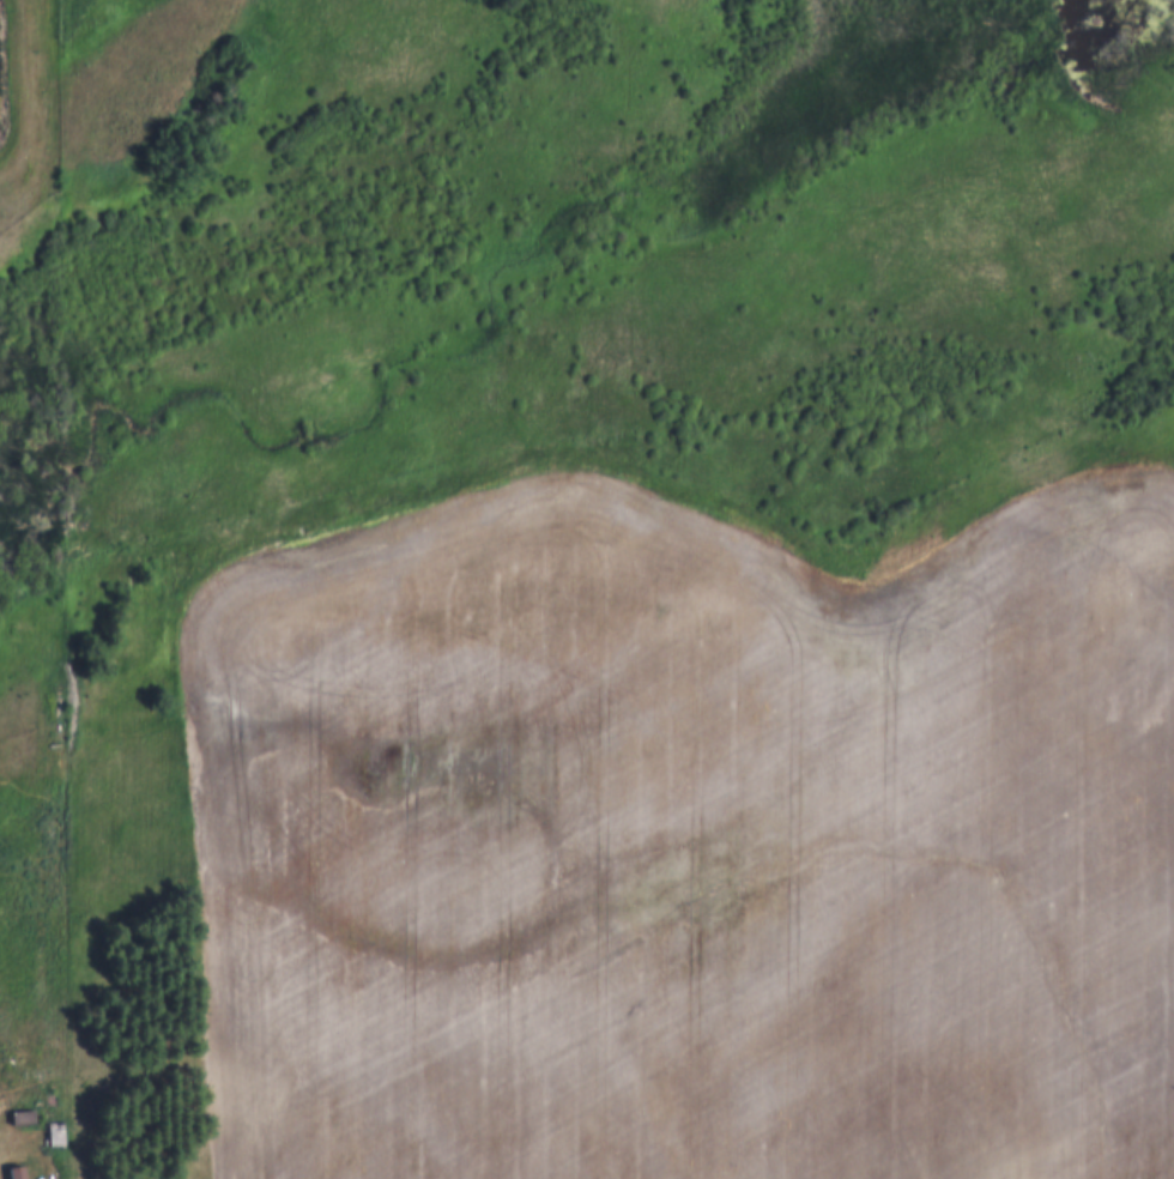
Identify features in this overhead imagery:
building: (23, 1112)
building: (56, 1130)
building: (20, 1171)

